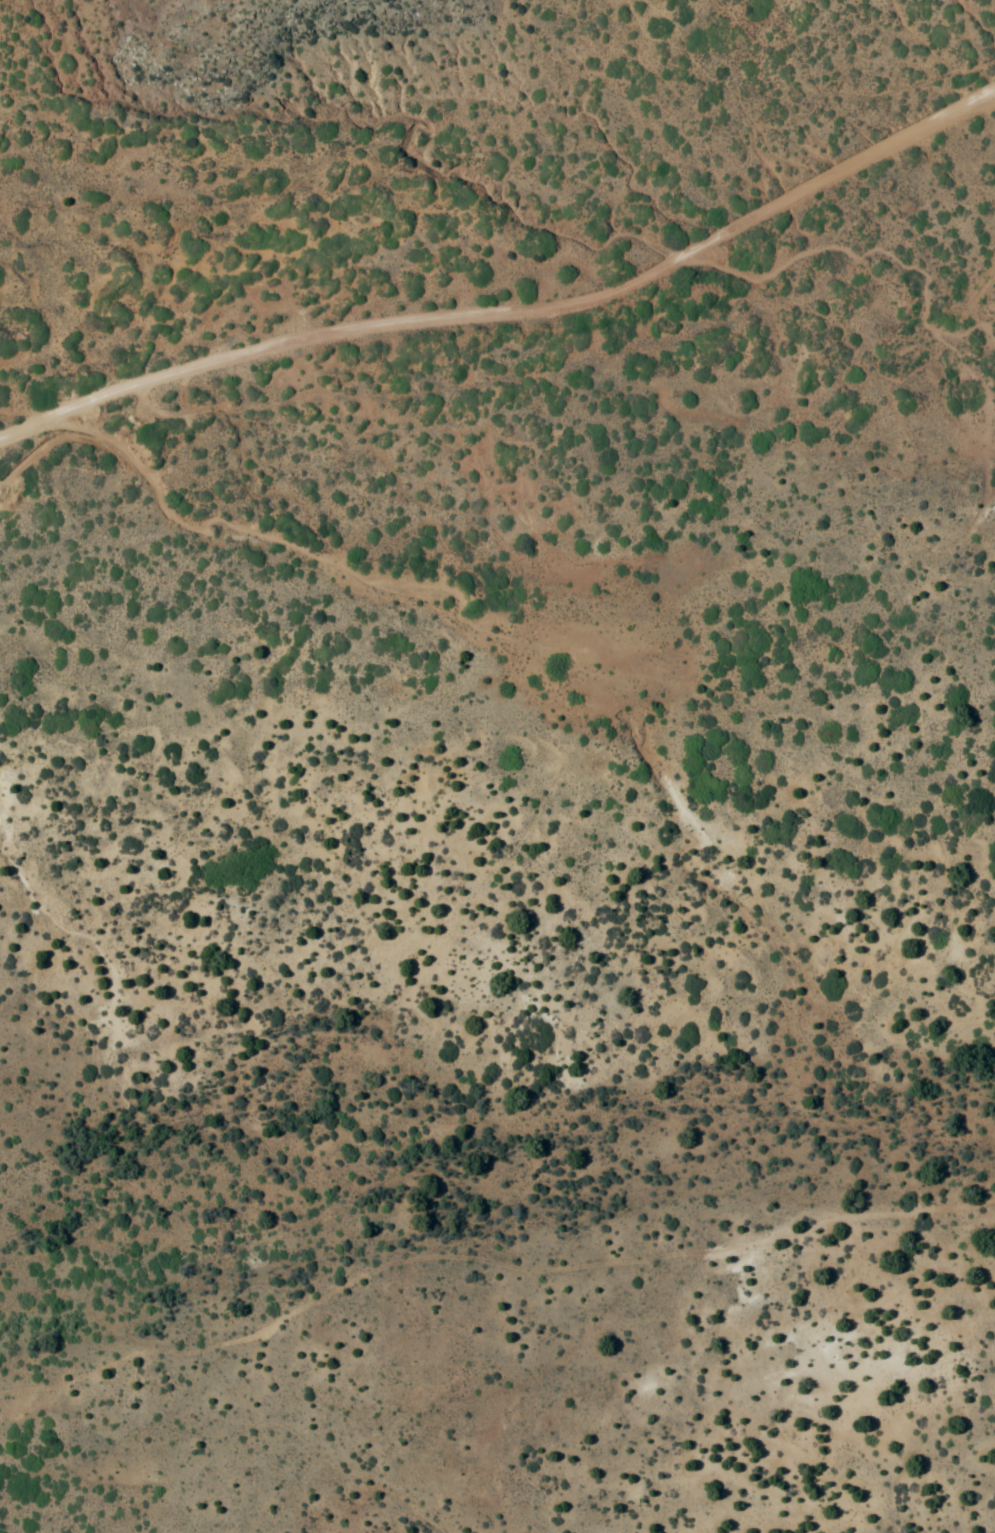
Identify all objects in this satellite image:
road: (513, 307)

